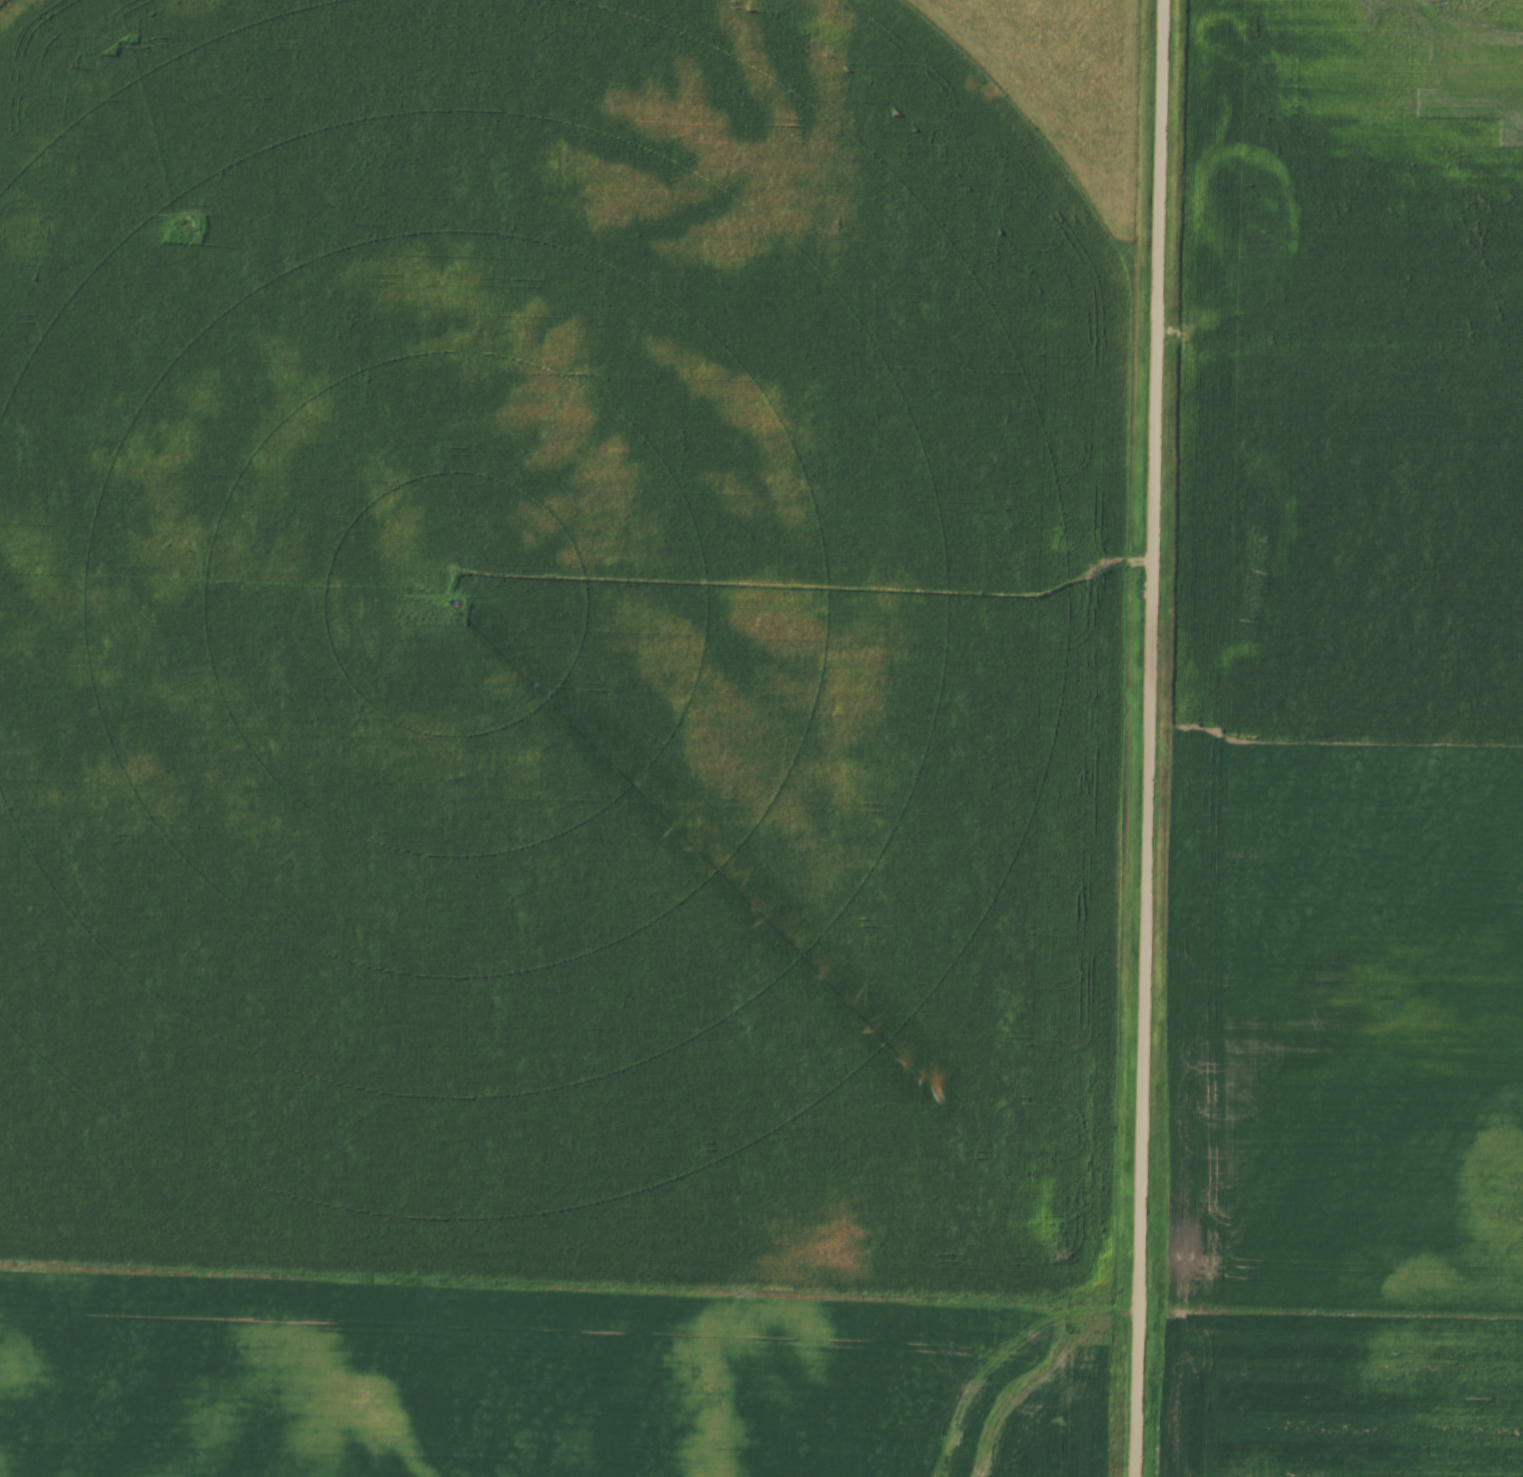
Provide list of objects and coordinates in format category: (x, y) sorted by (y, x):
road: (1227, 738)

